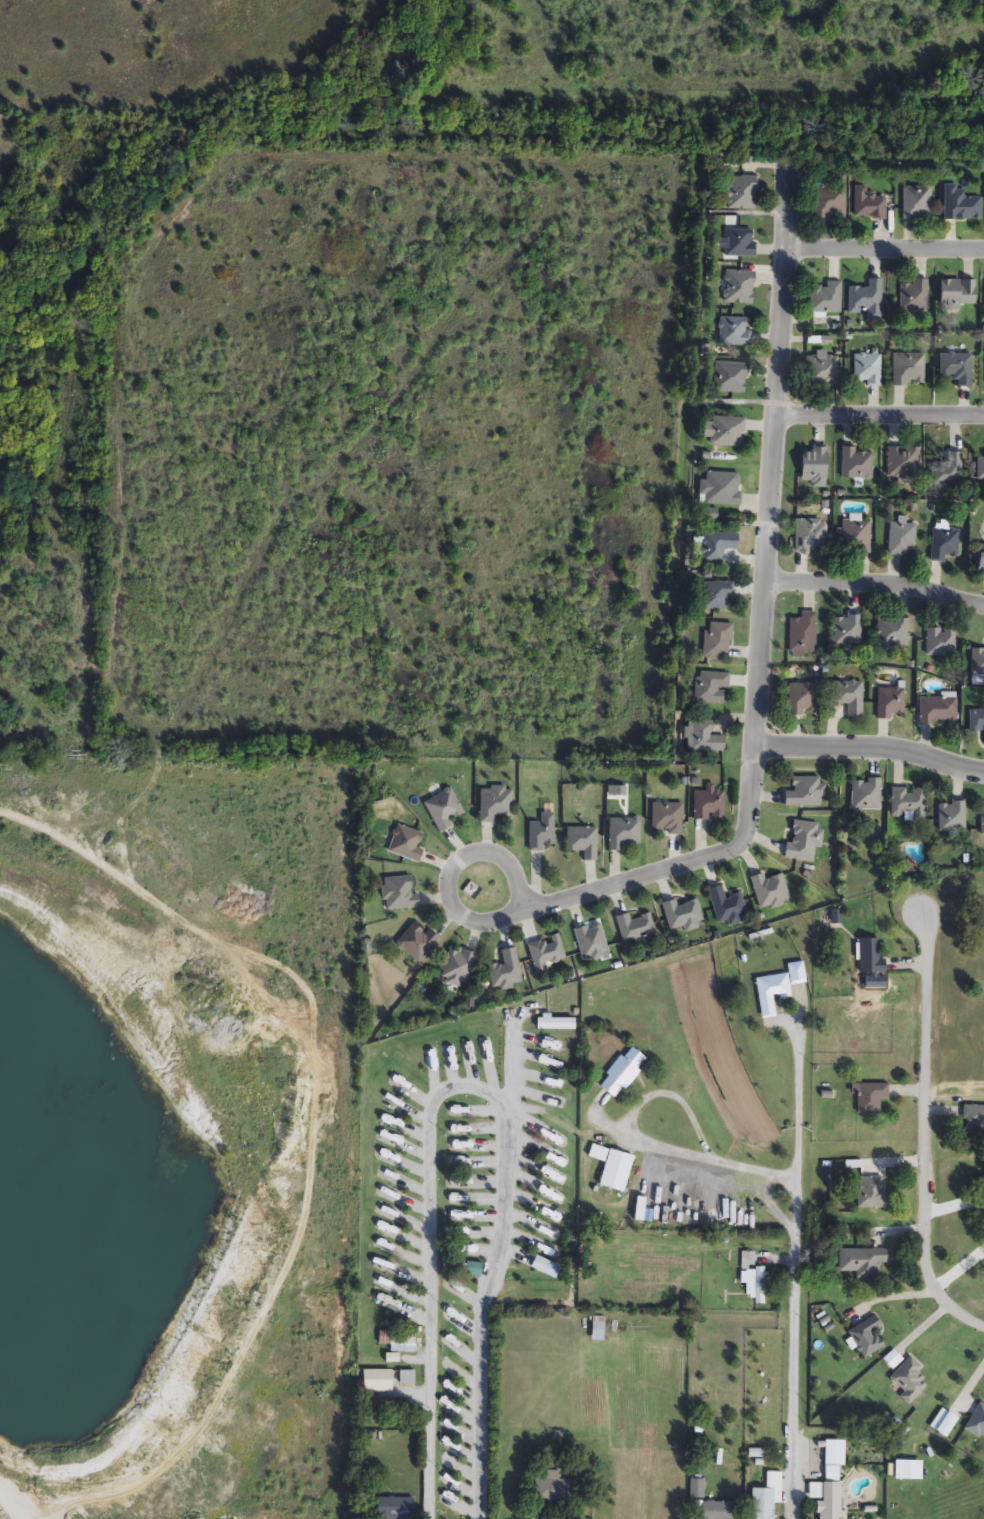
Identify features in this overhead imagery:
building: (741, 193)
building: (829, 203)
building: (918, 204)
building: (868, 205)
building: (961, 205)
building: (740, 243)
road: (887, 249)
building: (740, 288)
building: (956, 294)
building: (914, 297)
building: (826, 299)
building: (868, 300)
building: (736, 332)
building: (954, 367)
building: (908, 370)
building: (822, 371)
building: (868, 371)
building: (730, 379)
road: (882, 416)
building: (727, 433)
building: (903, 462)
building: (857, 464)
building: (814, 467)
building: (982, 472)
building: (948, 473)
building: (719, 490)
building: (811, 536)
building: (858, 536)
building: (903, 538)
building: (946, 545)
building: (716, 547)
building: (978, 565)
road: (876, 583)
building: (715, 596)
road: (764, 616)
building: (849, 631)
building: (894, 633)
building: (804, 635)
building: (716, 641)
building: (942, 643)
building: (977, 658)
building: (710, 688)
building: (850, 697)
building: (804, 701)
building: (891, 703)
building: (940, 710)
building: (976, 721)
building: (701, 738)
road: (871, 749)
building: (806, 793)
building: (867, 795)
building: (495, 805)
building: (709, 805)
building: (909, 805)
building: (444, 809)
building: (667, 817)
building: (952, 818)
building: (982, 821)
building: (623, 833)
building: (541, 834)
building: (583, 842)
building: (805, 842)
building: (407, 844)
building: (771, 891)
building: (400, 894)
building: (727, 906)
road: (455, 911)
building: (683, 915)
building: (636, 927)
building: (418, 941)
building: (591, 941)
building: (545, 953)
building: (869, 957)
building: (459, 967)
building: (506, 970)
building: (779, 989)
building: (551, 1046)
building: (621, 1076)
road: (513, 1077)
road: (470, 1090)
building: (546, 1095)
building: (869, 1098)
road: (801, 1102)
building: (973, 1120)
road: (929, 1132)
road: (700, 1154)
building: (614, 1169)
building: (871, 1193)
building: (979, 1193)
building: (870, 1263)
building: (753, 1280)
building: (600, 1330)
building: (865, 1336)
road: (795, 1350)
building: (407, 1378)
building: (379, 1382)
building: (909, 1382)
building: (977, 1423)
building: (907, 1471)
building: (829, 1482)
building: (555, 1489)
building: (767, 1498)
road: (13, 1505)
building: (397, 1508)
building: (716, 1511)

